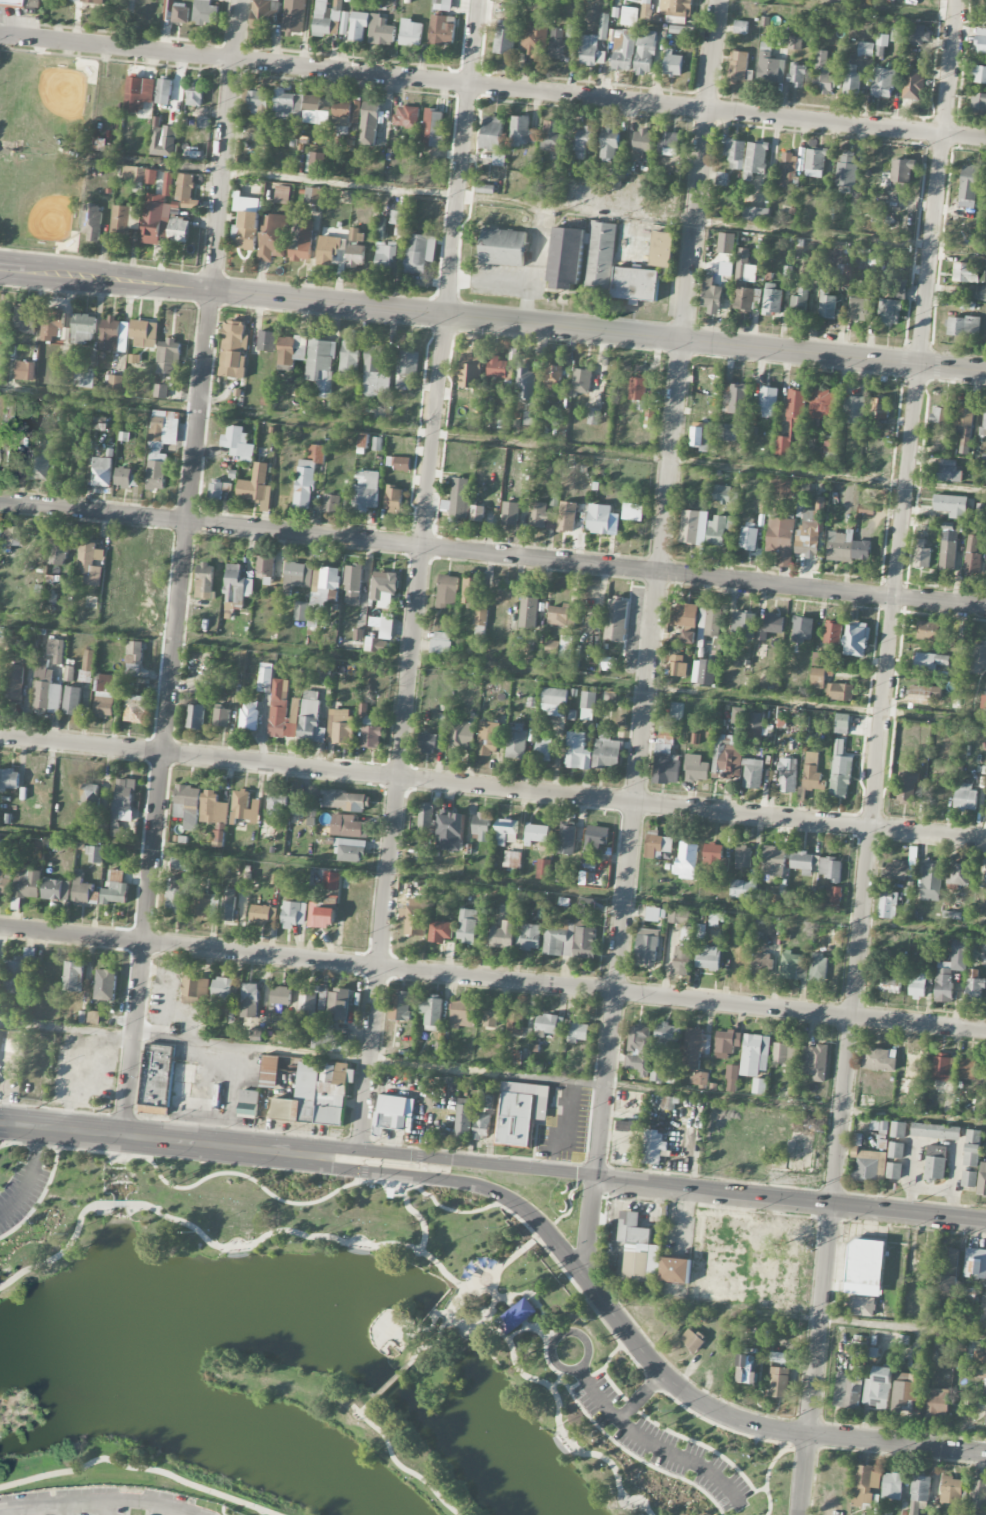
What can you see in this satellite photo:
building: (76, 0)
building: (93, 1)
building: (21, 3)
building: (443, 5)
building: (676, 7)
building: (175, 11)
road: (880, 11)
building: (205, 12)
building: (265, 13)
building: (629, 16)
building: (295, 17)
building: (675, 19)
building: (327, 20)
building: (345, 23)
building: (358, 25)
building: (741, 27)
building: (441, 30)
building: (381, 31)
building: (686, 31)
building: (411, 32)
building: (572, 32)
building: (603, 32)
building: (909, 34)
building: (505, 37)
building: (534, 38)
building: (981, 40)
building: (795, 43)
building: (557, 44)
building: (588, 49)
building: (866, 49)
building: (623, 52)
building: (645, 52)
building: (673, 65)
building: (738, 65)
building: (770, 66)
building: (796, 74)
building: (822, 74)
building: (979, 74)
building: (851, 78)
building: (884, 82)
building: (913, 84)
road: (493, 87)
building: (164, 91)
building: (195, 92)
building: (138, 93)
building: (258, 102)
building: (978, 102)
building: (288, 105)
building: (314, 110)
building: (346, 112)
building: (407, 117)
building: (369, 123)
building: (433, 128)
building: (522, 131)
building: (552, 136)
building: (494, 137)
building: (643, 140)
building: (583, 141)
building: (610, 141)
building: (162, 142)
building: (669, 143)
building: (99, 144)
park: (45, 150)
building: (735, 153)
building: (755, 159)
building: (317, 162)
building: (815, 163)
building: (787, 168)
building: (848, 171)
building: (901, 172)
building: (134, 173)
building: (151, 176)
building: (615, 176)
building: (969, 186)
building: (186, 191)
building: (314, 195)
road: (540, 204)
building: (157, 213)
building: (755, 214)
building: (399, 217)
building: (125, 220)
building: (92, 221)
building: (246, 223)
building: (179, 230)
building: (275, 234)
building: (302, 240)
road: (535, 244)
building: (503, 247)
building: (357, 248)
building: (328, 249)
building: (663, 249)
building: (419, 252)
building: (601, 255)
building: (386, 257)
building: (566, 258)
building: (875, 259)
building: (742, 264)
building: (726, 268)
building: (966, 272)
road: (489, 279)
building: (635, 283)
building: (977, 293)
building: (712, 294)
building: (745, 298)
road: (527, 301)
building: (772, 301)
building: (799, 303)
building: (827, 304)
building: (862, 309)
building: (890, 311)
building: (5, 315)
road: (493, 316)
building: (25, 321)
building: (52, 324)
building: (963, 326)
building: (83, 328)
building: (144, 334)
building: (112, 336)
building: (263, 341)
building: (234, 349)
building: (291, 351)
building: (167, 355)
building: (349, 358)
building: (320, 365)
building: (499, 367)
building: (406, 368)
building: (25, 371)
building: (470, 371)
building: (374, 372)
building: (554, 375)
building: (84, 378)
building: (581, 381)
building: (525, 382)
building: (115, 383)
building: (638, 387)
building: (161, 391)
building: (735, 398)
building: (768, 401)
building: (822, 404)
building: (879, 408)
building: (854, 410)
building: (939, 414)
building: (593, 416)
building: (791, 421)
building: (983, 423)
building: (965, 425)
building: (163, 428)
building: (726, 432)
building: (701, 435)
road: (493, 439)
building: (363, 440)
building: (238, 443)
building: (378, 443)
building: (829, 448)
building: (12, 460)
building: (402, 463)
building: (39, 464)
building: (948, 470)
building: (102, 471)
building: (156, 471)
building: (308, 476)
building: (126, 478)
building: (255, 485)
building: (782, 486)
building: (215, 490)
building: (365, 491)
building: (726, 494)
building: (394, 498)
building: (460, 498)
building: (331, 503)
building: (951, 505)
building: (633, 512)
building: (478, 513)
building: (510, 513)
building: (538, 514)
building: (567, 516)
building: (601, 519)
building: (552, 520)
building: (694, 527)
building: (718, 530)
building: (809, 532)
building: (10, 536)
building: (749, 538)
building: (781, 539)
building: (840, 546)
building: (61, 547)
building: (861, 550)
road: (492, 554)
building: (921, 554)
building: (948, 555)
building: (972, 555)
building: (90, 563)
building: (265, 565)
road: (184, 567)
road: (418, 574)
building: (297, 575)
building: (205, 581)
building: (237, 584)
building: (353, 584)
road: (656, 586)
building: (384, 588)
building: (447, 591)
building: (470, 591)
building: (321, 593)
road: (892, 602)
building: (232, 609)
building: (301, 611)
building: (529, 612)
building: (686, 614)
building: (673, 615)
building: (562, 616)
building: (481, 617)
building: (616, 619)
building: (709, 622)
building: (743, 624)
building: (387, 626)
building: (770, 626)
building: (803, 628)
building: (928, 630)
building: (689, 632)
building: (833, 633)
building: (2, 634)
building: (855, 638)
building: (442, 643)
building: (372, 644)
building: (560, 647)
building: (56, 650)
building: (977, 656)
building: (134, 658)
building: (820, 659)
building: (88, 660)
building: (930, 662)
building: (677, 665)
road: (493, 668)
building: (706, 672)
building: (69, 676)
building: (817, 678)
building: (265, 679)
building: (14, 684)
building: (46, 689)
building: (840, 691)
building: (924, 694)
building: (105, 695)
building: (72, 700)
building: (554, 702)
building: (983, 703)
building: (588, 705)
building: (135, 709)
building: (363, 709)
building: (677, 710)
building: (282, 711)
building: (196, 716)
building: (249, 716)
building: (222, 717)
building: (311, 718)
building: (749, 720)
building: (842, 723)
building: (340, 726)
building: (462, 735)
building: (372, 736)
building: (488, 737)
building: (432, 742)
building: (516, 742)
building: (543, 750)
building: (577, 751)
building: (607, 751)
building: (666, 756)
building: (736, 763)
building: (696, 768)
building: (812, 772)
building: (787, 775)
building: (841, 776)
building: (9, 779)
road: (493, 787)
building: (907, 788)
building: (965, 797)
building: (88, 801)
building: (345, 801)
building: (123, 803)
building: (276, 803)
building: (188, 805)
building: (245, 806)
building: (297, 808)
building: (215, 814)
building: (426, 816)
building: (348, 826)
building: (482, 826)
building: (451, 827)
building: (507, 830)
building: (537, 833)
building: (567, 837)
building: (594, 841)
building: (658, 845)
building: (350, 850)
building: (424, 850)
building: (95, 854)
building: (715, 857)
building: (743, 857)
building: (512, 859)
building: (773, 860)
building: (178, 861)
building: (687, 862)
building: (804, 862)
building: (543, 869)
building: (831, 869)
building: (897, 870)
building: (960, 874)
building: (332, 880)
building: (931, 881)
road: (493, 882)
building: (27, 883)
building: (5, 884)
building: (985, 886)
building: (744, 887)
building: (53, 889)
building: (115, 889)
building: (83, 890)
building: (177, 894)
building: (332, 894)
building: (830, 901)
building: (202, 904)
building: (229, 904)
building: (888, 904)
building: (291, 912)
building: (263, 914)
building: (655, 914)
building: (321, 916)
building: (414, 917)
building: (679, 917)
building: (467, 925)
building: (586, 929)
building: (441, 931)
building: (503, 935)
building: (531, 936)
building: (555, 937)
building: (647, 946)
building: (708, 957)
building: (682, 960)
building: (761, 964)
building: (793, 966)
building: (818, 967)
building: (950, 969)
building: (18, 975)
building: (73, 976)
road: (492, 979)
building: (892, 981)
building: (106, 985)
building: (918, 985)
building: (194, 989)
building: (975, 989)
building: (222, 990)
building: (280, 995)
building: (322, 995)
building: (249, 1000)
building: (400, 1006)
building: (432, 1010)
building: (474, 1015)
building: (94, 1017)
building: (516, 1021)
building: (550, 1024)
building: (578, 1030)
building: (667, 1033)
building: (256, 1034)
building: (317, 1040)
building: (727, 1043)
building: (337, 1045)
building: (692, 1048)
building: (639, 1049)
building: (784, 1052)
building: (754, 1054)
building: (879, 1059)
building: (814, 1061)
building: (945, 1068)
building: (967, 1068)
building: (270, 1071)
road: (493, 1072)
building: (658, 1072)
building: (732, 1077)
building: (700, 1078)
building: (173, 1084)
building: (759, 1086)
building: (317, 1094)
building: (249, 1102)
building: (668, 1102)
building: (393, 1111)
building: (521, 1112)
building: (464, 1118)
building: (483, 1126)
building: (622, 1126)
building: (880, 1126)
building: (899, 1129)
building: (936, 1131)
road: (161, 1138)
building: (654, 1147)
building: (972, 1148)
building: (897, 1150)
road: (458, 1159)
building: (936, 1162)
building: (869, 1164)
building: (894, 1171)
road: (31, 1174)
building: (969, 1179)
building: (982, 1180)
road: (380, 1181)
road: (45, 1190)
parking lot: (21, 1192)
road: (790, 1199)
road: (120, 1203)
road: (589, 1225)
road: (297, 1230)
road: (65, 1249)
building: (637, 1249)
building: (728, 1252)
road: (516, 1253)
building: (950, 1261)
building: (975, 1262)
building: (865, 1265)
building: (675, 1270)
building: (774, 1281)
building: (947, 1283)
road: (523, 1292)
building: (707, 1293)
building: (968, 1298)
building: (861, 1305)
road: (490, 1309)
building: (516, 1315)
road: (795, 1315)
road: (821, 1318)
road: (445, 1321)
road: (525, 1323)
road: (620, 1324)
road: (517, 1331)
road: (560, 1333)
building: (693, 1340)
park: (325, 1354)
building: (778, 1356)
building: (980, 1356)
road: (603, 1366)
road: (555, 1367)
building: (748, 1369)
building: (981, 1373)
road: (557, 1381)
building: (779, 1382)
road: (390, 1384)
building: (878, 1388)
building: (848, 1390)
building: (985, 1391)
road: (583, 1392)
building: (905, 1392)
road: (641, 1395)
building: (938, 1402)
road: (559, 1405)
road: (367, 1407)
building: (985, 1420)
road: (682, 1434)
parking lot: (660, 1441)
road: (654, 1443)
road: (966, 1450)
road: (646, 1461)
road: (401, 1465)
road: (771, 1465)
road: (141, 1467)
road: (804, 1473)
building: (892, 1486)
building: (866, 1488)
building: (920, 1488)
building: (952, 1490)
building: (978, 1494)
road: (100, 1498)
road: (106, 1506)
road: (69, 1508)
road: (36, 1510)
road: (174, 1510)
building: (914, 1510)
road: (0, 1511)
building: (976, 1514)

